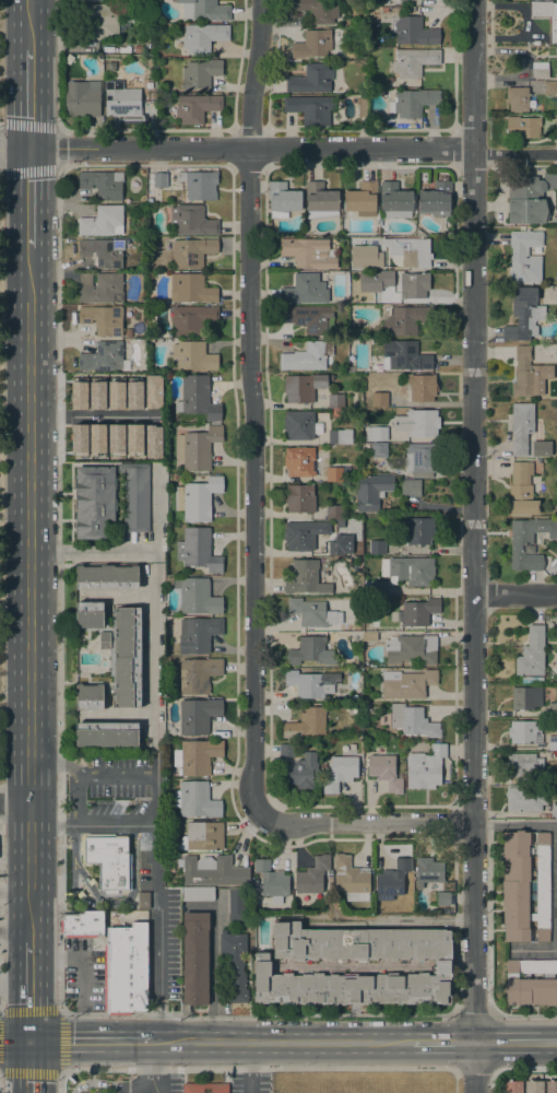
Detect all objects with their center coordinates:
building: (204, 10)
building: (318, 10)
building: (102, 20)
building: (159, 24)
road: (28, 26)
building: (553, 30)
building: (414, 32)
building: (203, 37)
building: (312, 44)
building: (116, 48)
building: (139, 48)
building: (413, 61)
building: (556, 64)
building: (115, 69)
building: (540, 70)
building: (200, 73)
building: (311, 79)
building: (550, 87)
building: (82, 98)
building: (519, 98)
building: (122, 99)
road: (28, 101)
building: (413, 102)
building: (152, 105)
building: (363, 107)
building: (194, 108)
building: (310, 109)
building: (159, 122)
building: (556, 122)
building: (523, 127)
road: (293, 148)
road: (14, 149)
traffic signals: (28, 149)
road: (3, 168)
building: (159, 179)
building: (103, 184)
building: (201, 185)
road: (28, 189)
building: (436, 198)
building: (530, 198)
building: (283, 199)
building: (362, 199)
building: (321, 200)
building: (395, 200)
building: (103, 221)
building: (191, 221)
building: (104, 251)
building: (192, 251)
building: (407, 251)
building: (309, 252)
building: (524, 256)
building: (387, 278)
building: (85, 279)
building: (414, 284)
building: (103, 289)
building: (191, 289)
building: (305, 289)
building: (524, 314)
building: (307, 317)
building: (192, 318)
building: (104, 319)
building: (406, 319)
building: (356, 331)
building: (128, 332)
building: (193, 356)
building: (307, 356)
building: (404, 356)
building: (105, 357)
building: (351, 368)
building: (529, 375)
building: (304, 386)
building: (420, 387)
building: (133, 391)
building: (153, 391)
building: (79, 395)
building: (96, 395)
building: (116, 395)
building: (197, 398)
building: (379, 399)
building: (335, 400)
road: (254, 406)
road: (93, 416)
building: (416, 422)
building: (300, 425)
building: (521, 426)
building: (135, 431)
building: (376, 433)
building: (340, 436)
building: (79, 438)
building: (96, 438)
building: (115, 439)
building: (153, 442)
building: (198, 448)
building: (541, 448)
building: (379, 449)
building: (324, 453)
building: (158, 454)
building: (422, 457)
building: (300, 461)
building: (335, 473)
building: (176, 477)
building: (411, 486)
building: (521, 490)
building: (371, 491)
building: (135, 496)
building: (197, 498)
building: (299, 498)
building: (94, 501)
road: (155, 509)
building: (333, 512)
building: (417, 530)
building: (303, 533)
building: (529, 542)
road: (473, 545)
building: (376, 546)
building: (335, 548)
building: (198, 550)
road: (90, 551)
road: (152, 559)
building: (410, 569)
building: (106, 577)
building: (305, 577)
building: (168, 580)
road: (28, 585)
building: (374, 587)
road: (515, 592)
building: (197, 596)
building: (418, 611)
building: (310, 612)
building: (88, 614)
building: (198, 634)
building: (369, 636)
building: (105, 639)
road: (152, 644)
building: (407, 646)
building: (310, 651)
building: (531, 653)
building: (128, 657)
building: (198, 674)
building: (310, 683)
building: (407, 683)
building: (90, 697)
building: (353, 697)
building: (525, 697)
building: (368, 706)
building: (355, 709)
building: (552, 709)
building: (197, 715)
building: (413, 721)
building: (305, 724)
building: (524, 732)
building: (106, 737)
building: (553, 743)
building: (286, 750)
building: (197, 756)
building: (525, 766)
building: (425, 767)
building: (301, 771)
building: (384, 772)
building: (340, 773)
road: (116, 774)
road: (58, 787)
building: (525, 798)
building: (195, 799)
road: (14, 802)
building: (554, 809)
road: (366, 822)
road: (514, 824)
building: (202, 836)
building: (108, 859)
road: (155, 868)
building: (213, 870)
building: (428, 871)
building: (312, 875)
building: (351, 879)
building: (392, 880)
building: (254, 881)
building: (272, 881)
building: (407, 881)
building: (525, 884)
road: (556, 886)
building: (197, 893)
road: (14, 894)
building: (443, 898)
building: (143, 900)
building: (236, 904)
road: (390, 921)
building: (83, 924)
road: (534, 950)
building: (195, 959)
building: (235, 964)
building: (126, 965)
building: (376, 966)
building: (281, 967)
road: (84, 971)
building: (531, 983)
road: (28, 989)
road: (473, 1015)
road: (524, 1015)
road: (14, 1041)
traffic signals: (29, 1041)
road: (60, 1041)
road: (88, 1041)
road: (281, 1042)
road: (442, 1042)
road: (514, 1042)
road: (29, 1067)
road: (150, 1067)
road: (144, 1068)
road: (251, 1068)
road: (366, 1068)
road: (476, 1068)
road: (526, 1068)
road: (97, 1081)
road: (139, 1081)
building: (513, 1086)
building: (533, 1086)
building: (552, 1086)
building: (205, 1088)
road: (128, 1089)

